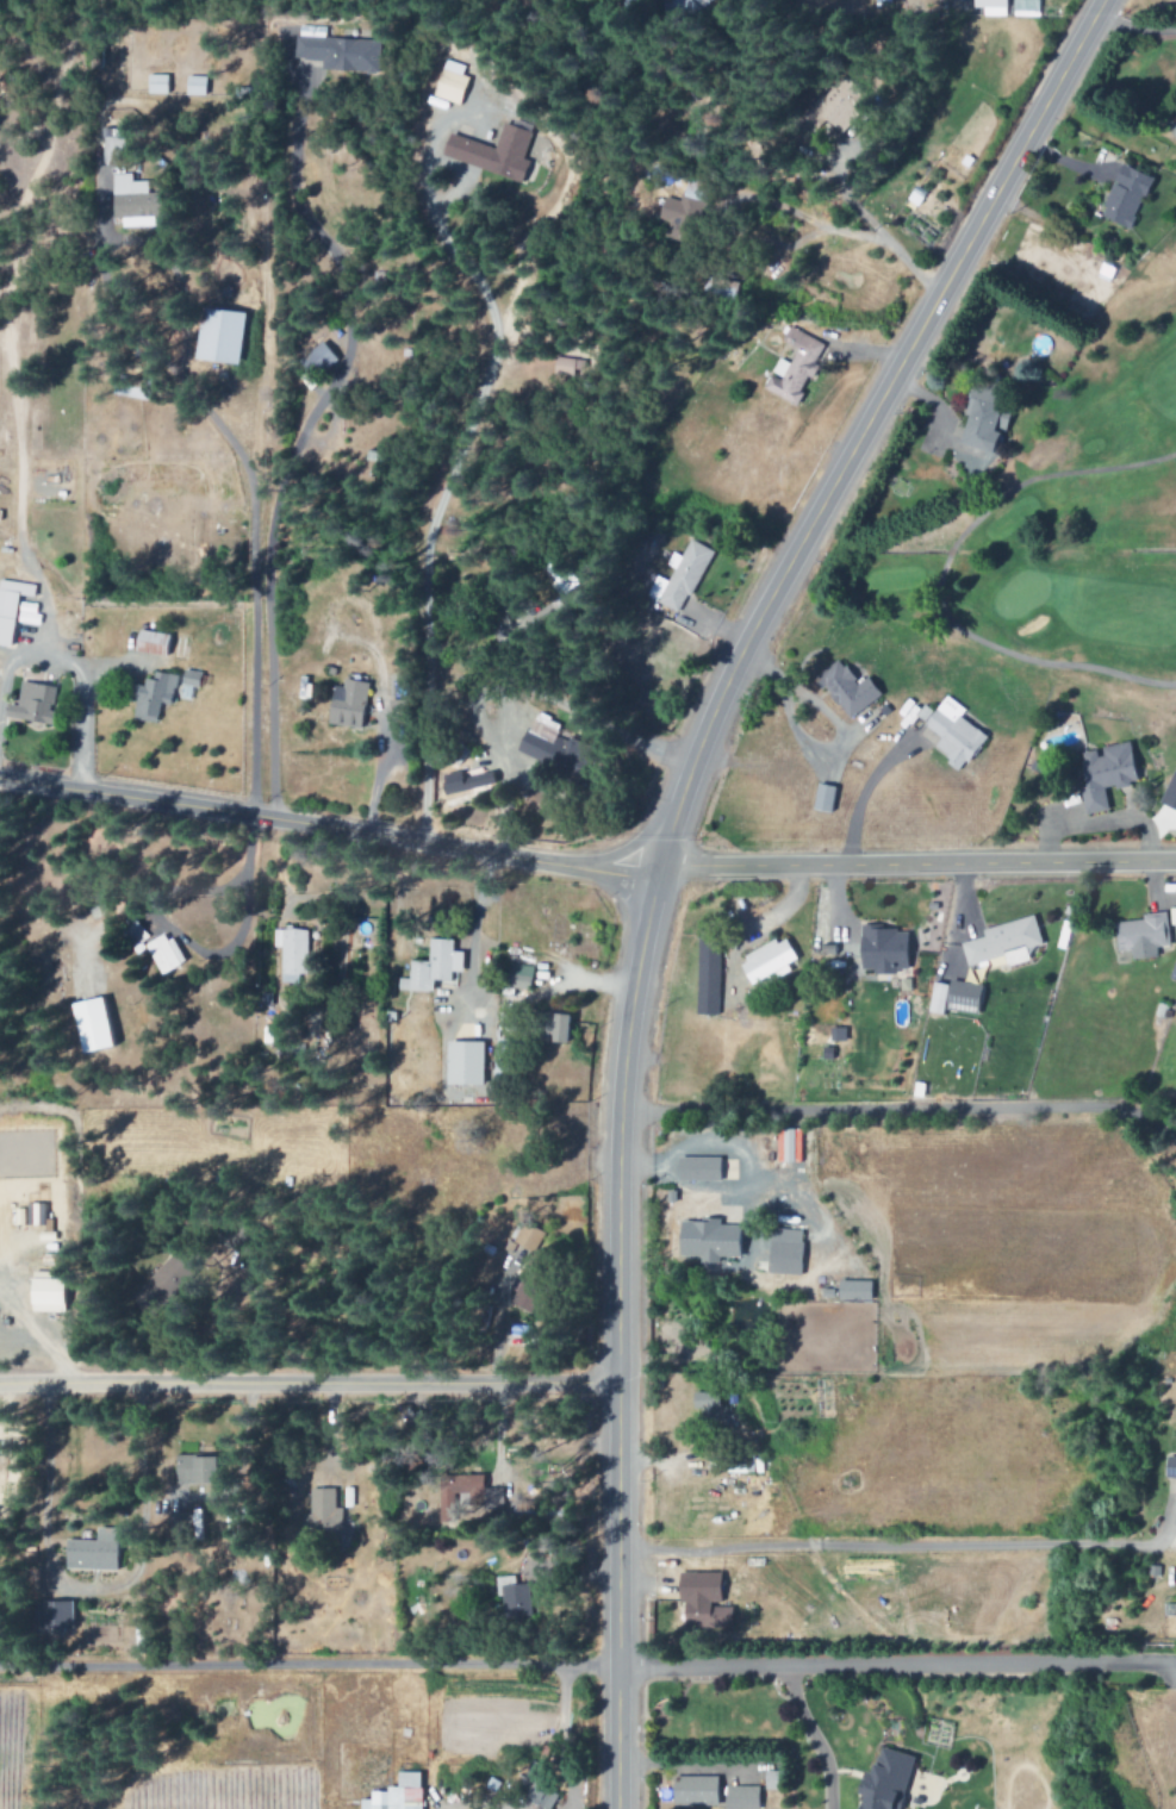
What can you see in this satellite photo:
building: (692, 7)
building: (990, 7)
building: (1023, 8)
building: (340, 52)
building: (449, 83)
building: (156, 85)
building: (836, 107)
building: (111, 146)
building: (491, 152)
building: (1122, 197)
building: (131, 202)
building: (679, 213)
building: (724, 291)
building: (218, 336)
building: (317, 360)
building: (568, 367)
building: (794, 367)
building: (130, 388)
building: (982, 420)
park: (1034, 503)
building: (558, 575)
building: (679, 578)
building: (10, 607)
building: (150, 643)
building: (189, 679)
building: (845, 690)
building: (150, 697)
building: (347, 704)
building: (31, 705)
building: (951, 736)
building: (549, 747)
building: (1103, 774)
building: (463, 782)
building: (1169, 793)
road: (328, 824)
road: (664, 854)
road: (916, 868)
building: (1171, 916)
building: (135, 935)
building: (1140, 935)
building: (1002, 943)
building: (879, 950)
building: (163, 954)
building: (292, 954)
building: (766, 961)
building: (431, 967)
building: (518, 975)
building: (705, 975)
building: (953, 997)
building: (91, 1027)
building: (553, 1028)
building: (463, 1063)
building: (788, 1144)
building: (697, 1168)
building: (524, 1237)
building: (707, 1241)
building: (783, 1252)
building: (160, 1286)
building: (852, 1290)
building: (45, 1291)
road: (309, 1383)
building: (710, 1409)
building: (1170, 1467)
building: (194, 1468)
building: (446, 1502)
building: (323, 1514)
building: (92, 1552)
building: (512, 1599)
building: (701, 1602)
building: (51, 1615)
road: (895, 1665)
building: (884, 1779)
building: (693, 1791)
building: (396, 1794)
building: (537, 1795)
building: (741, 1797)

